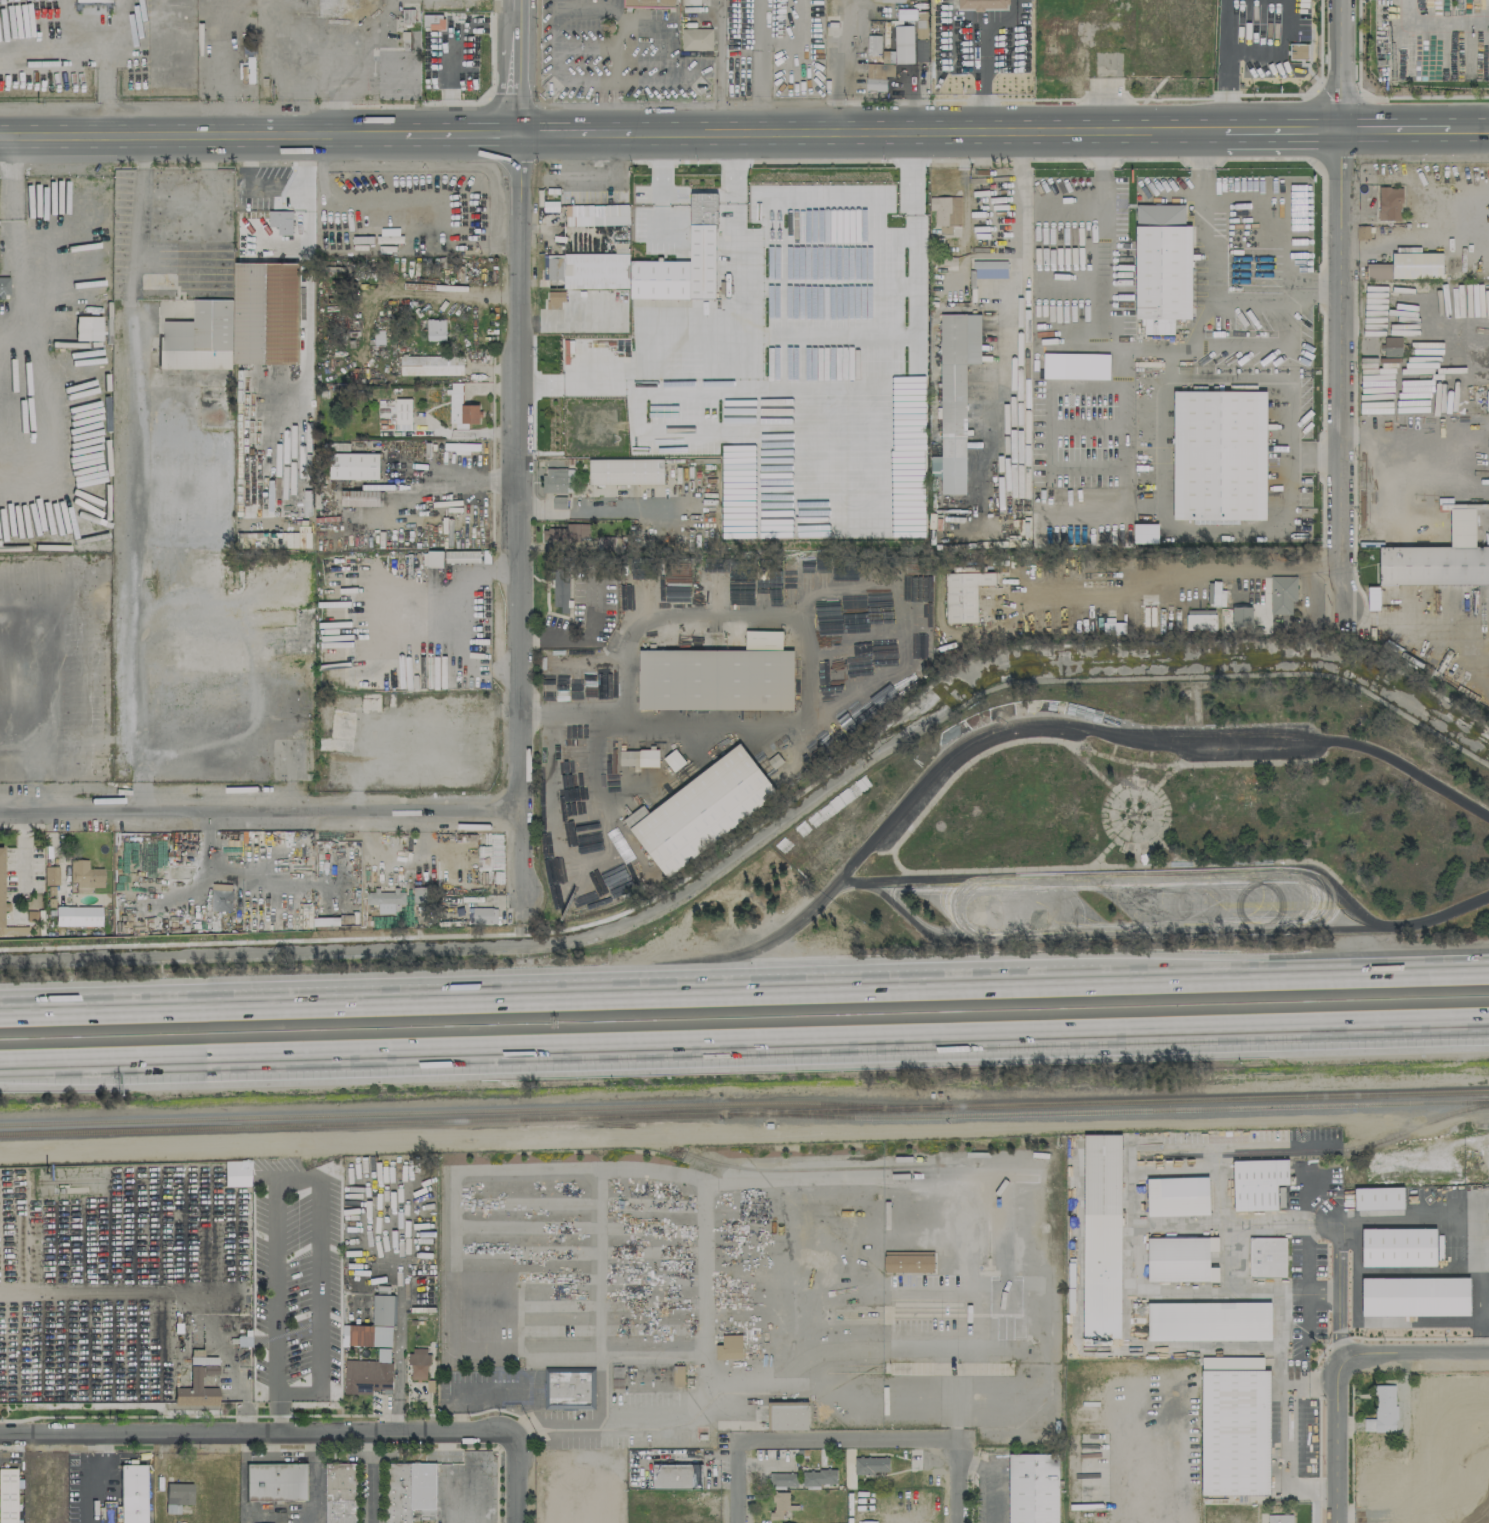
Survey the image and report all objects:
building: (92, 0)
building: (690, 2)
building: (648, 3)
building: (981, 4)
building: (906, 14)
building: (433, 22)
road: (956, 23)
road: (1009, 23)
road: (1434, 23)
building: (1045, 29)
building: (903, 44)
road: (307, 45)
building: (873, 45)
building: (1298, 51)
building: (887, 56)
road: (836, 64)
road: (1346, 64)
road: (521, 65)
road: (761, 65)
building: (1060, 66)
building: (248, 71)
building: (877, 76)
road: (983, 76)
road: (104, 81)
road: (607, 83)
road: (447, 84)
road: (1398, 128)
road: (1469, 128)
road: (1286, 129)
road: (573, 130)
road: (926, 130)
road: (462, 131)
road: (202, 133)
road: (1199, 147)
road: (1101, 148)
road: (662, 184)
road: (351, 196)
road: (12, 201)
building: (1389, 203)
building: (946, 212)
building: (597, 215)
building: (280, 221)
building: (702, 226)
road: (736, 258)
building: (1407, 266)
building: (1161, 268)
road: (1257, 285)
building: (4, 286)
road: (1329, 287)
building: (555, 300)
road: (1014, 317)
building: (239, 323)
building: (87, 328)
building: (435, 329)
building: (1391, 346)
building: (431, 365)
road: (1345, 367)
road: (1180, 373)
road: (848, 386)
building: (954, 397)
building: (1487, 400)
building: (461, 407)
road: (470, 428)
building: (1219, 456)
road: (1097, 458)
building: (354, 466)
building: (626, 471)
road: (133, 472)
building: (557, 480)
building: (360, 498)
building: (559, 502)
road: (595, 510)
road: (522, 513)
building: (567, 533)
building: (1145, 533)
building: (608, 543)
building: (462, 556)
building: (434, 558)
building: (1439, 558)
road: (1328, 567)
road: (1159, 571)
building: (969, 578)
building: (561, 588)
road: (861, 590)
building: (1282, 594)
building: (1373, 598)
building: (1241, 618)
building: (1200, 620)
building: (1113, 628)
road: (1413, 628)
road: (39, 647)
building: (719, 676)
road: (19, 715)
road: (231, 726)
road: (1128, 738)
building: (303, 755)
building: (638, 758)
building: (673, 760)
road: (36, 764)
road: (261, 809)
building: (701, 810)
road: (27, 850)
road: (595, 872)
building: (85, 874)
building: (50, 875)
road: (1086, 878)
building: (1, 886)
building: (420, 894)
building: (221, 897)
building: (385, 901)
road: (949, 906)
building: (77, 915)
building: (481, 915)
road: (1407, 922)
road: (1098, 935)
road: (695, 969)
road: (744, 999)
road: (793, 1038)
road: (49, 1059)
railway: (1215, 1098)
railway: (830, 1109)
railway: (470, 1110)
railway: (1104, 1111)
railway: (359, 1123)
railway: (1481, 1123)
railway: (1319, 1151)
railway: (836, 1168)
building: (236, 1172)
road: (297, 1178)
building: (1258, 1183)
building: (1177, 1196)
building: (1378, 1198)
building: (1102, 1235)
building: (1398, 1247)
road: (1142, 1256)
building: (1267, 1257)
building: (1181, 1259)
building: (908, 1261)
road: (1343, 1287)
building: (1415, 1296)
road: (1482, 1314)
building: (1209, 1321)
building: (372, 1325)
building: (729, 1347)
road: (1414, 1353)
building: (418, 1364)
building: (368, 1374)
building: (648, 1375)
building: (198, 1385)
building: (570, 1387)
road: (703, 1405)
building: (1382, 1410)
building: (788, 1416)
building: (1235, 1426)
road: (257, 1430)
road: (1287, 1432)
road: (846, 1436)
road: (1340, 1438)
building: (871, 1465)
building: (76, 1475)
building: (677, 1476)
road: (369, 1477)
road: (515, 1477)
building: (802, 1478)
building: (275, 1481)
road: (958, 1482)
road: (740, 1487)
building: (1033, 1488)
building: (410, 1491)
building: (132, 1493)
building: (341, 1493)
building: (7, 1495)
building: (177, 1496)
road: (1180, 1499)
building: (779, 1505)
building: (1279, 1518)

